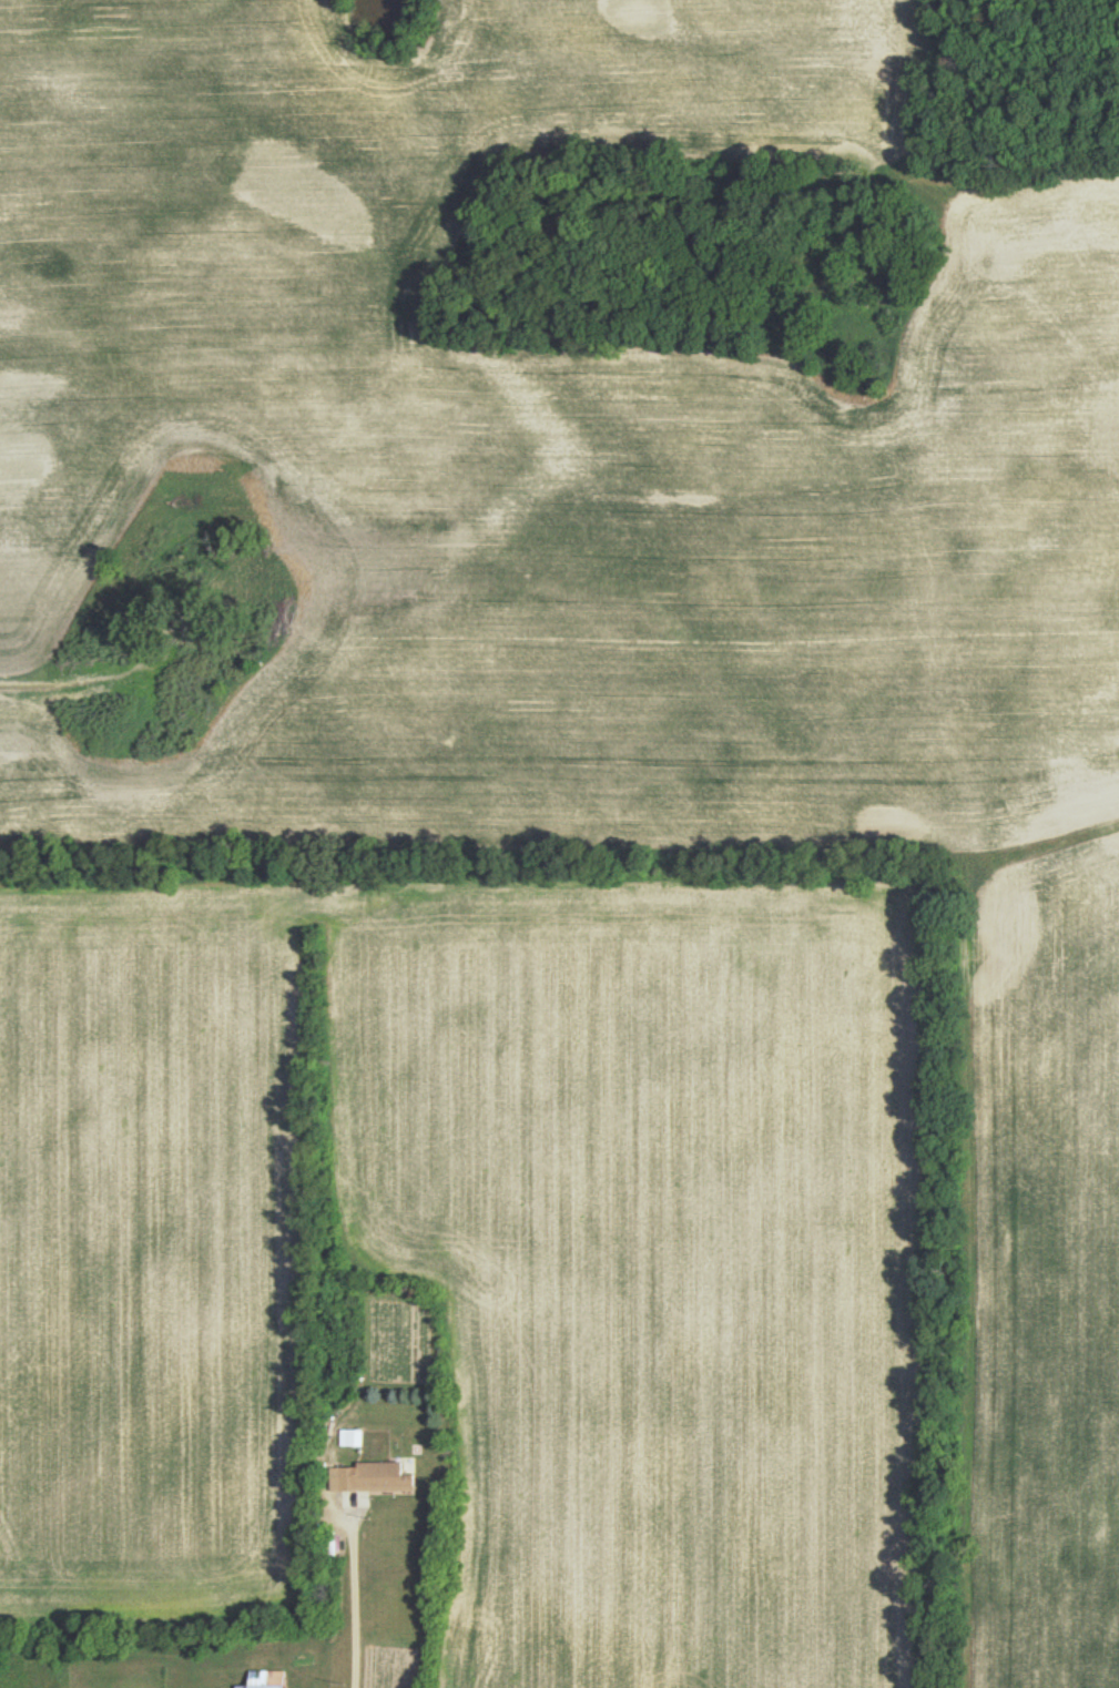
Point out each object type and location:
building: (353, 1438)
building: (370, 1476)
road: (356, 1599)
building: (264, 1679)

